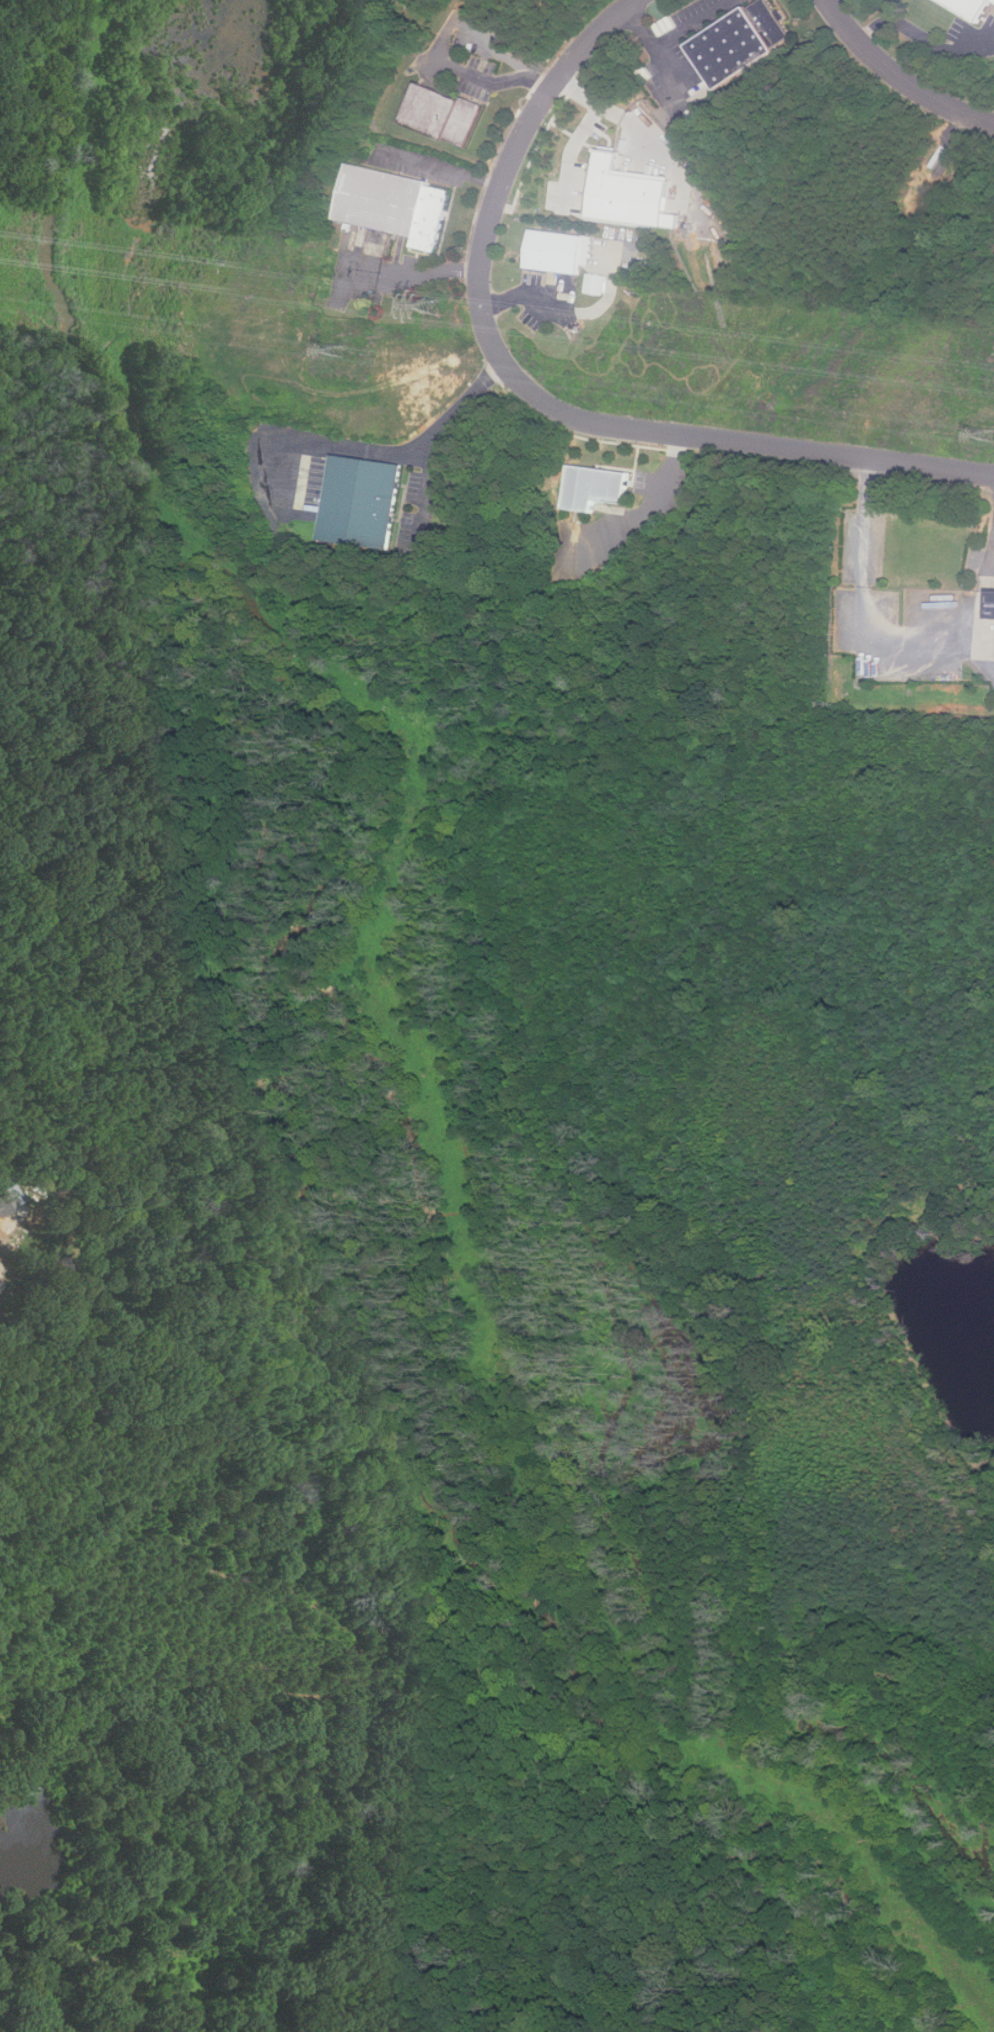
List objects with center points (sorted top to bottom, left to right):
building: (973, 7)
road: (923, 35)
road: (672, 38)
building: (743, 43)
road: (439, 50)
road: (899, 76)
building: (443, 115)
road: (446, 167)
building: (633, 195)
building: (397, 206)
building: (560, 252)
road: (416, 276)
building: (596, 284)
power tower: (435, 306)
road: (573, 311)
power tower: (339, 352)
road: (537, 397)
road: (450, 420)
power tower: (991, 434)
building: (597, 488)
building: (363, 503)
road: (656, 508)
road: (984, 604)
building: (993, 608)
road: (862, 610)
building: (9, 1198)
building: (1, 1266)
building: (0, 1283)
dam: (901, 1355)

